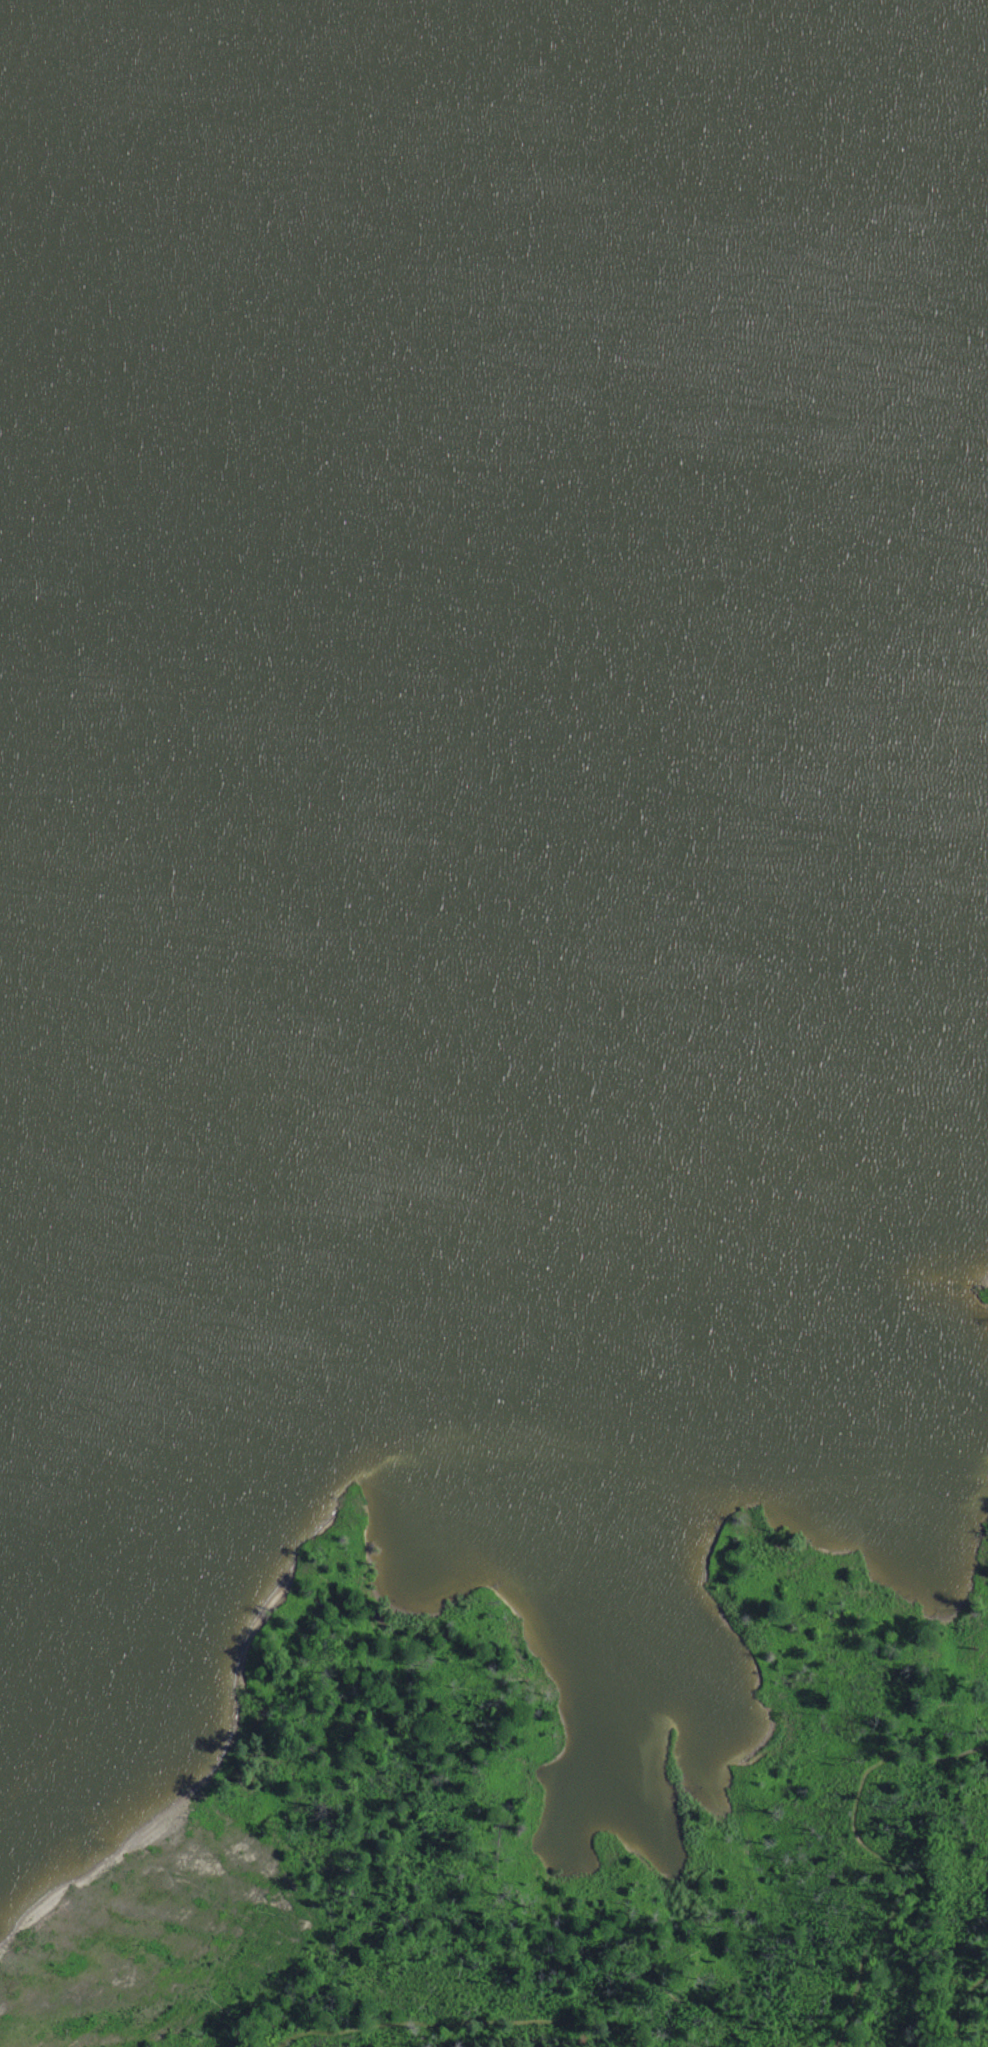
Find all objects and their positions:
river: (474, 342)
road: (878, 1856)
road: (420, 2020)

